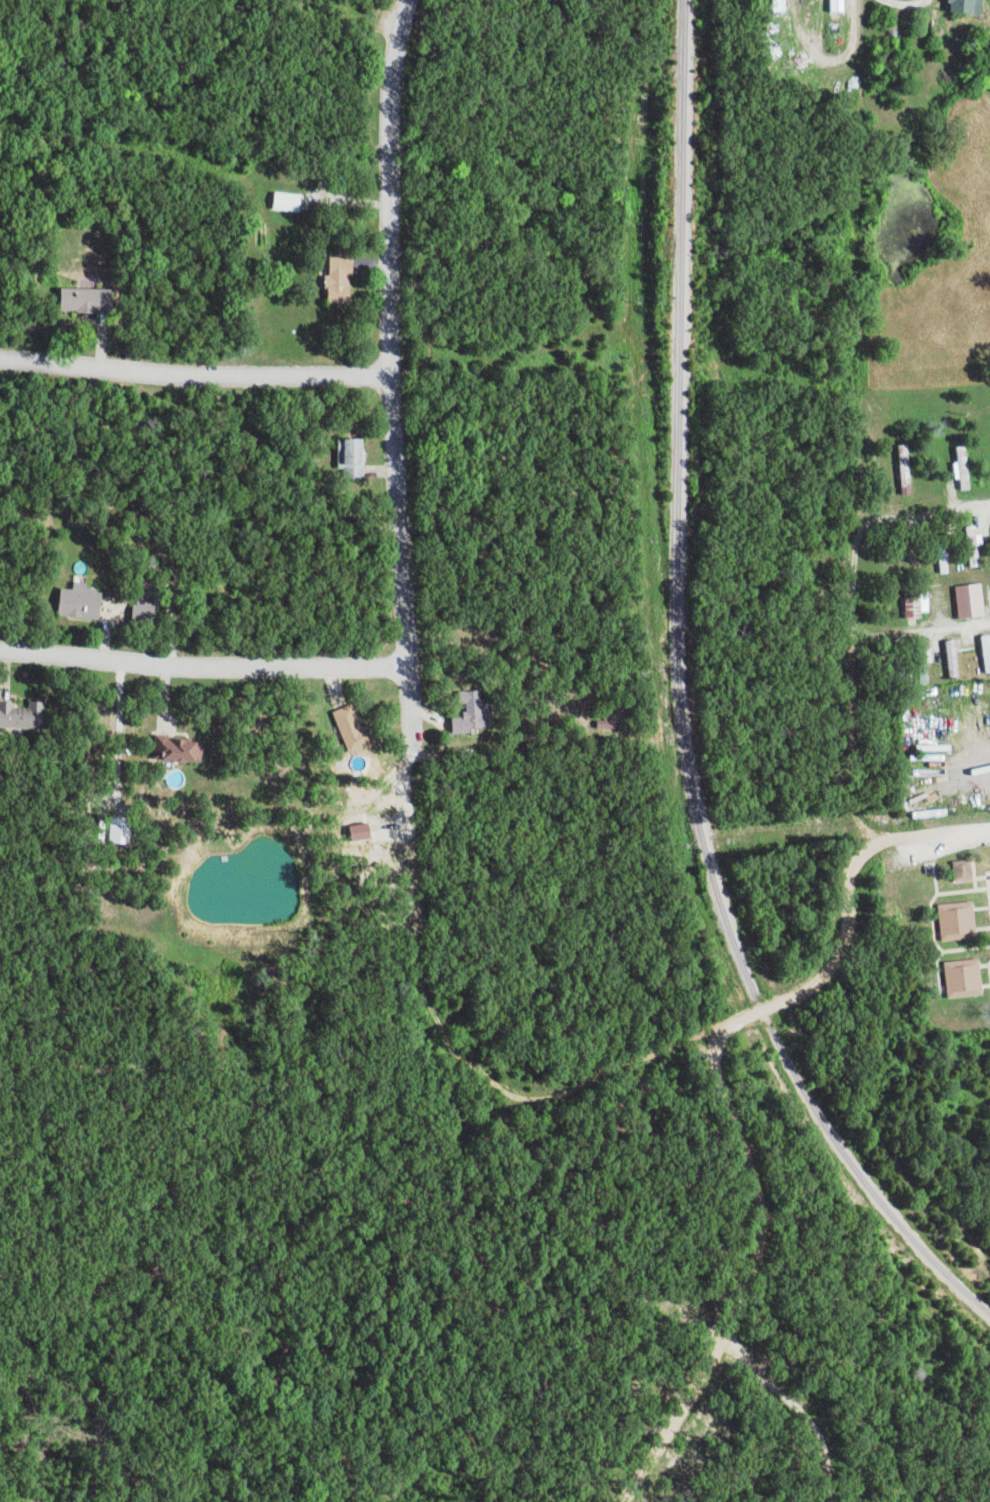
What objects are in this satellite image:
building: (786, 5)
building: (845, 6)
building: (974, 6)
road: (865, 20)
building: (294, 201)
building: (346, 277)
building: (94, 298)
road: (196, 371)
road: (394, 395)
building: (359, 456)
road: (936, 513)
building: (980, 545)
building: (949, 553)
road: (853, 576)
building: (87, 600)
building: (976, 600)
building: (924, 602)
building: (150, 613)
road: (938, 628)
building: (989, 642)
road: (206, 665)
railway: (687, 697)
building: (479, 712)
building: (27, 714)
building: (359, 728)
building: (184, 748)
building: (127, 829)
road: (857, 872)
building: (964, 920)
building: (970, 977)
road: (723, 1086)
road: (692, 1368)

